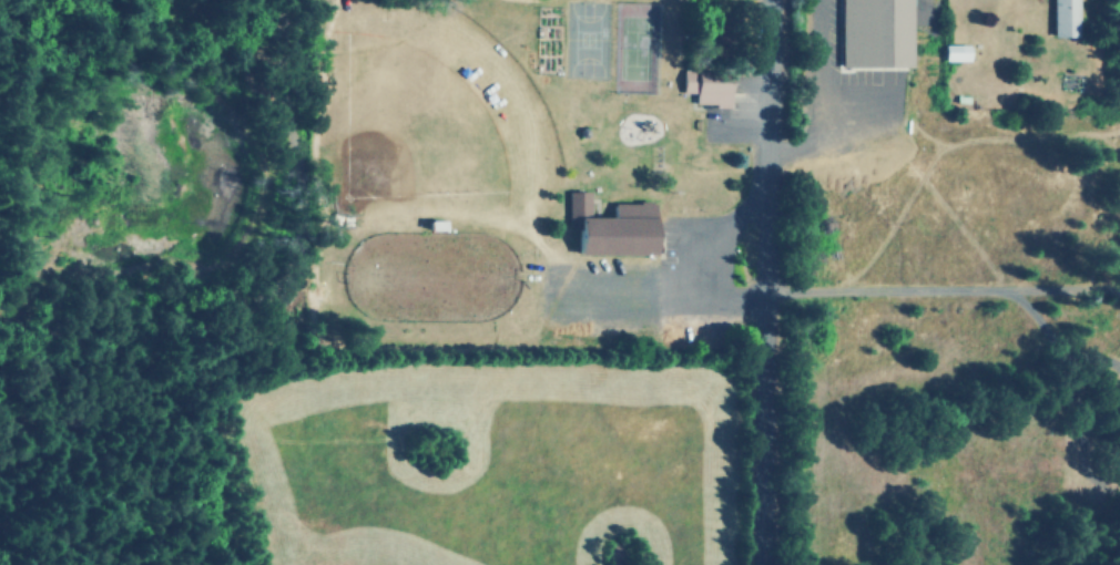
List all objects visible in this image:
road: (3, 4)
building: (1063, 18)
building: (873, 32)
building: (954, 52)
building: (705, 86)
park: (530, 177)
road: (776, 281)
road: (948, 284)

